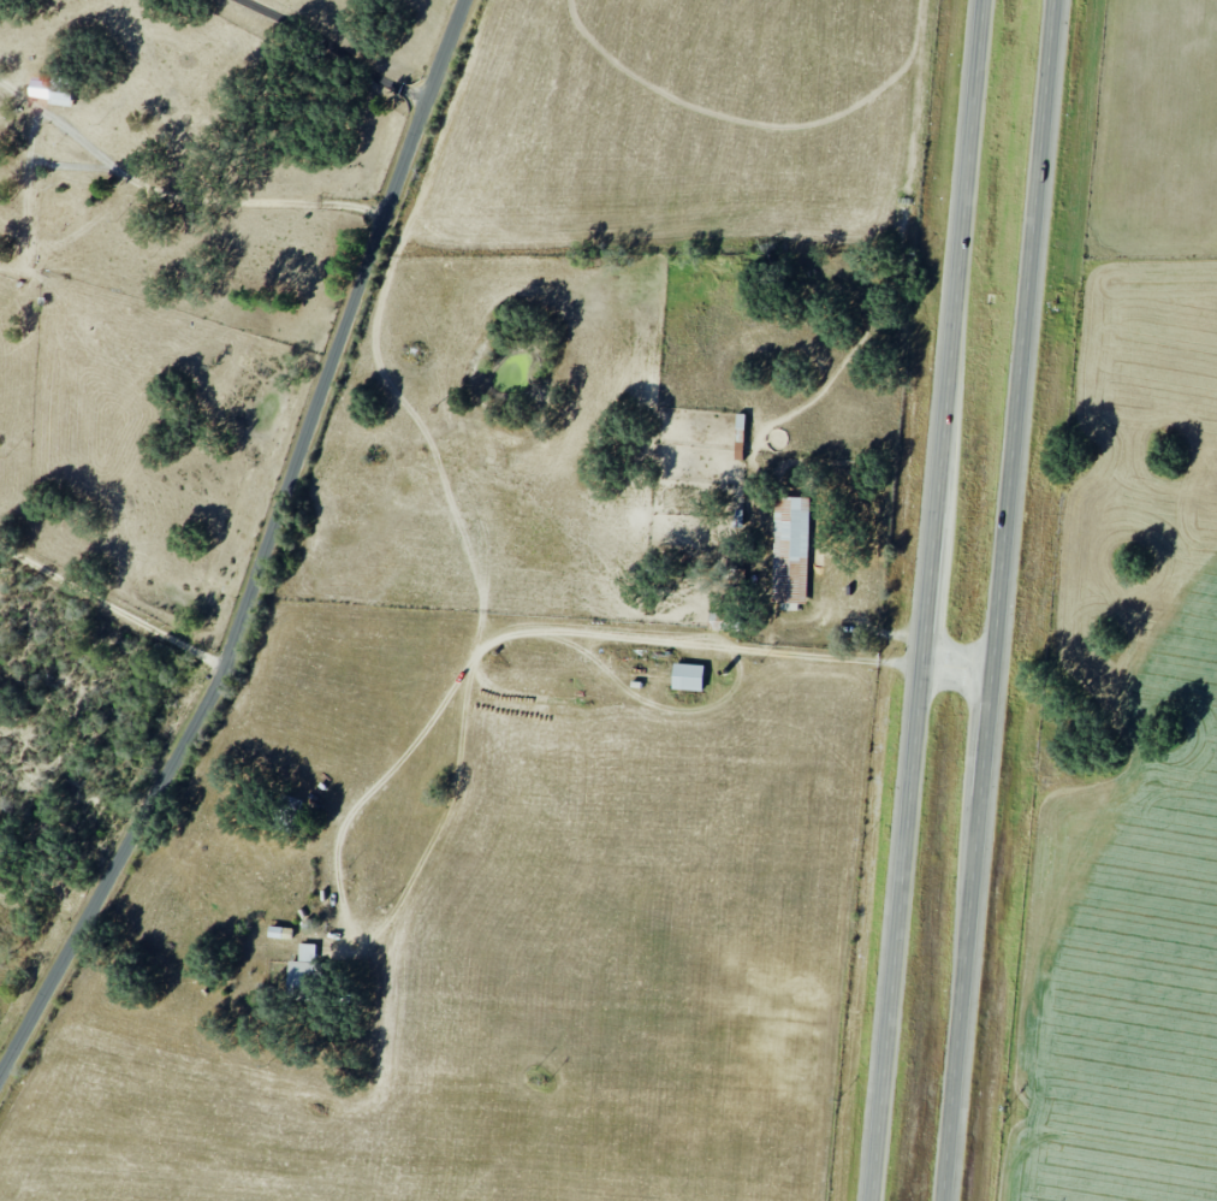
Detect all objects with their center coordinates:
road: (331, 51)
building: (60, 93)
road: (176, 199)
building: (791, 549)
road: (267, 555)
road: (931, 600)
road: (1002, 600)
road: (112, 608)
road: (961, 667)
building: (688, 676)
road: (425, 739)
building: (280, 931)
building: (304, 968)

